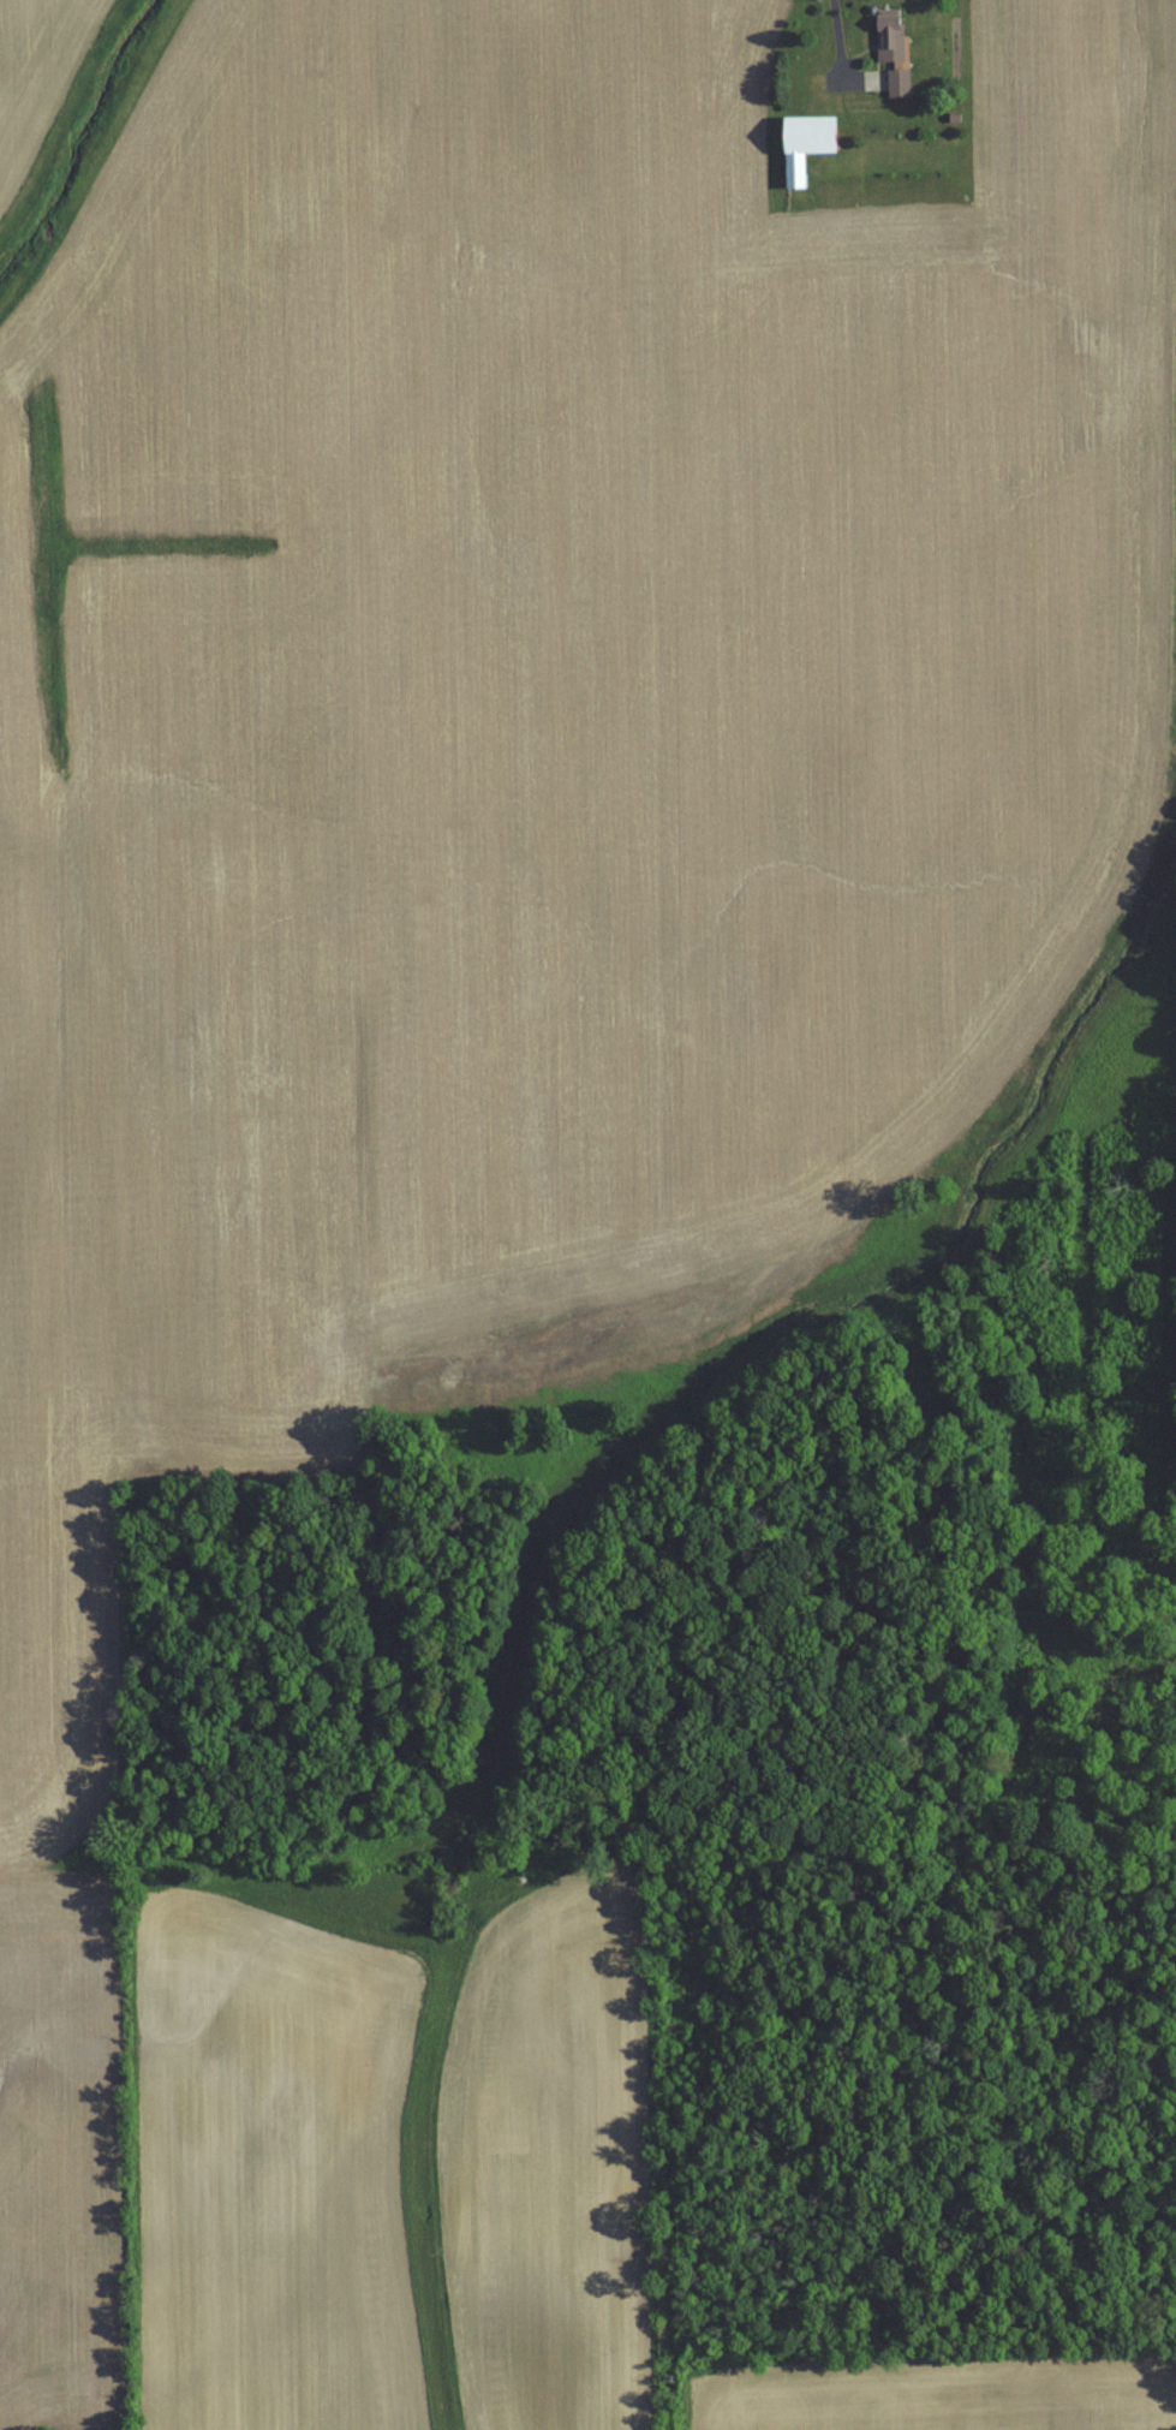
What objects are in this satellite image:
road: (834, 40)
building: (888, 50)
building: (796, 145)

